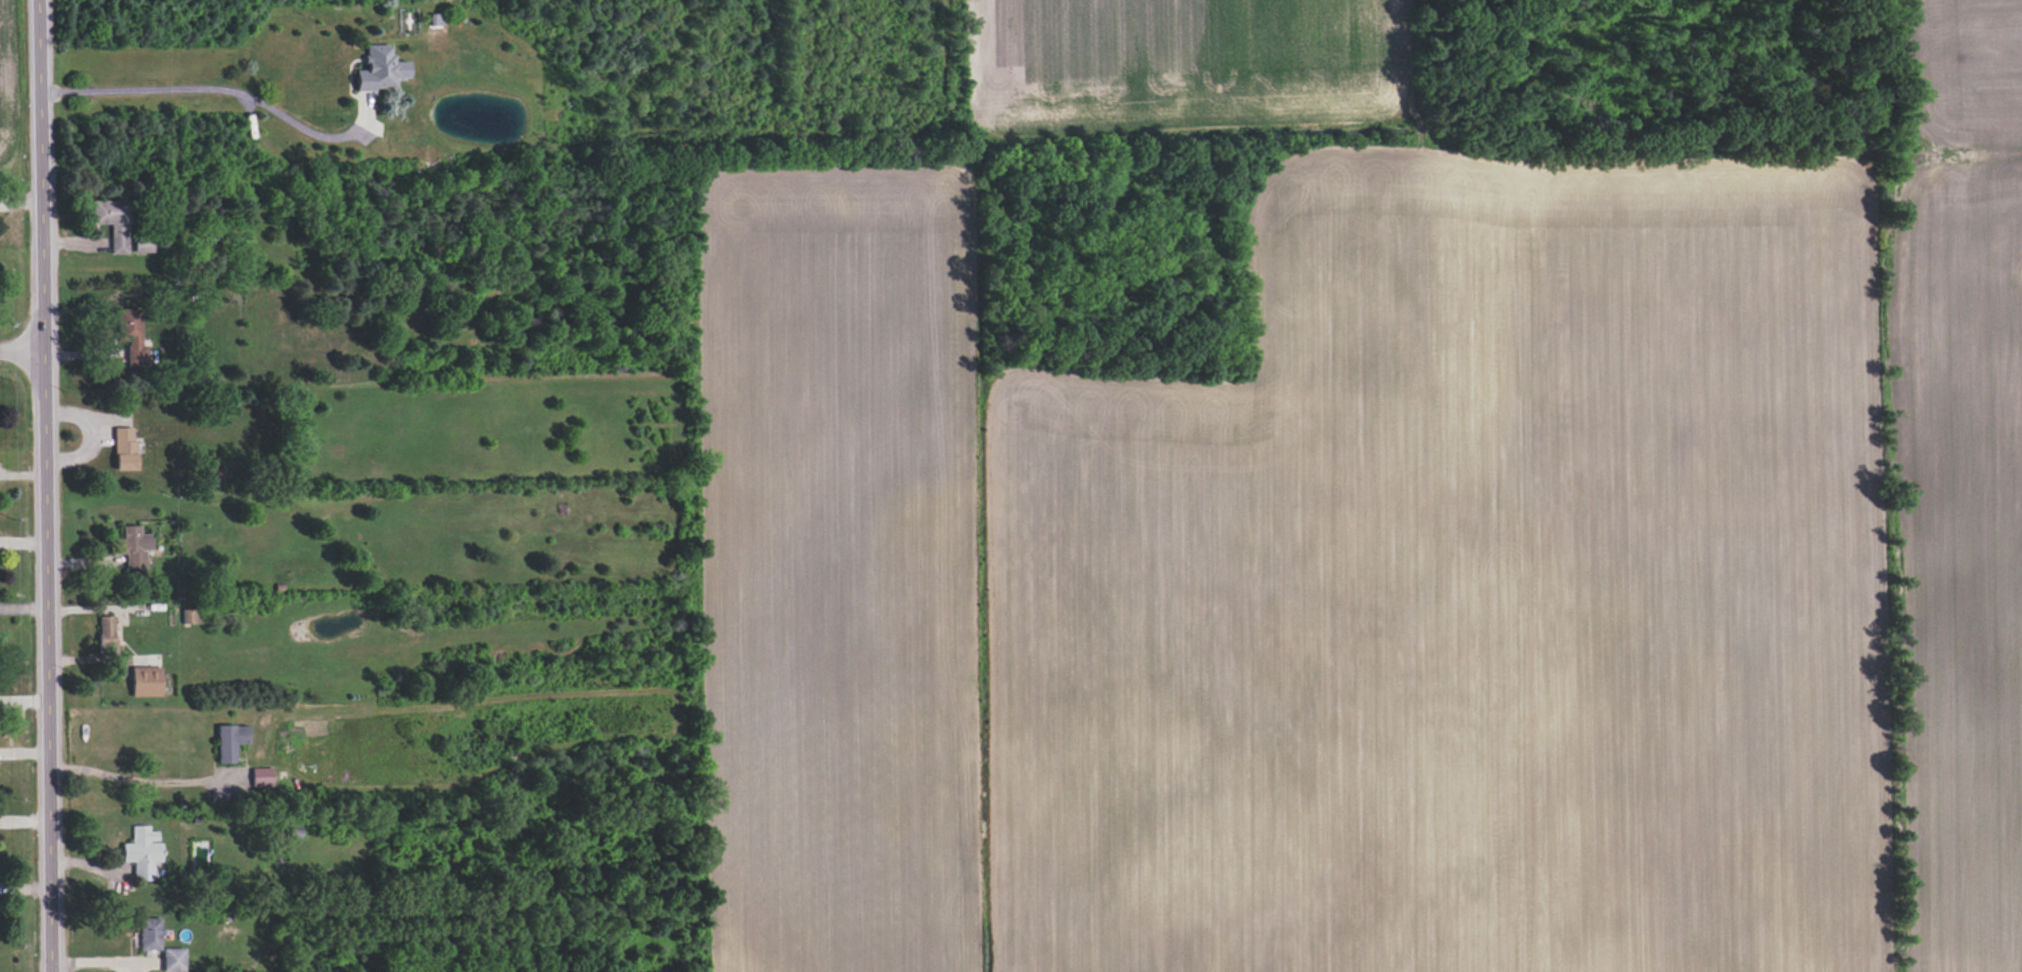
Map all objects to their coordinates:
building: (380, 69)
road: (210, 97)
building: (113, 222)
building: (141, 244)
building: (130, 336)
road: (22, 348)
road: (89, 442)
building: (123, 448)
road: (45, 485)
building: (133, 547)
road: (108, 614)
building: (190, 616)
building: (105, 631)
building: (145, 681)
building: (229, 742)
building: (261, 777)
road: (139, 781)
building: (142, 852)
building: (149, 934)
building: (173, 960)

